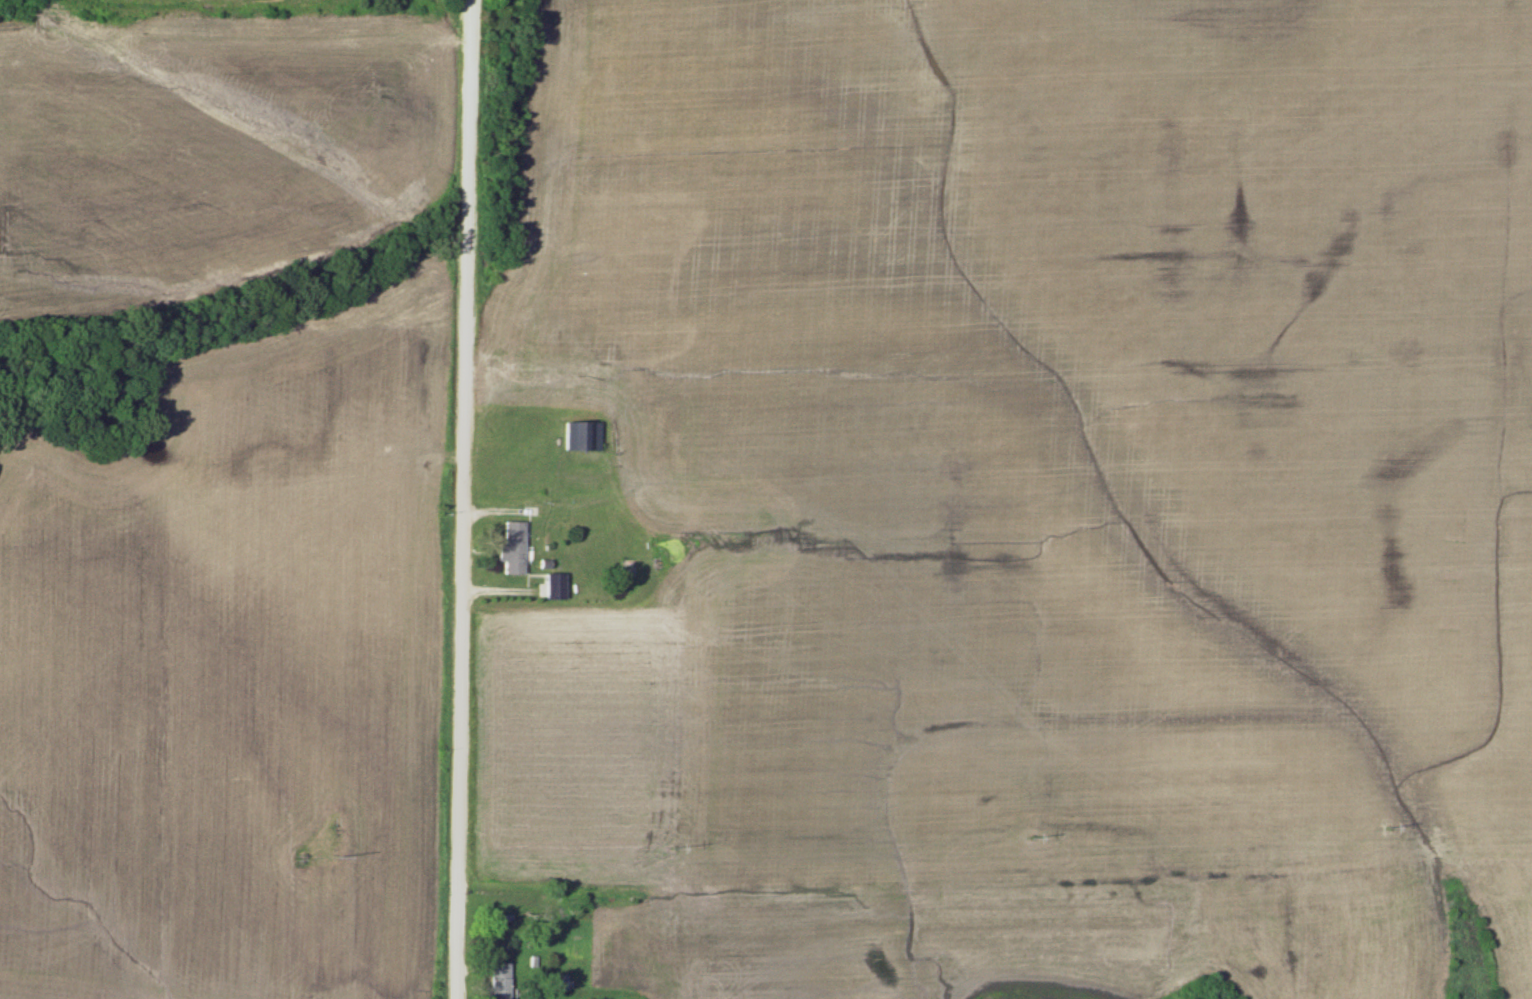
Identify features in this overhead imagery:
building: (577, 434)
crop: (1039, 446)
road: (463, 499)
building: (515, 547)
building: (501, 980)
building: (561, 981)

